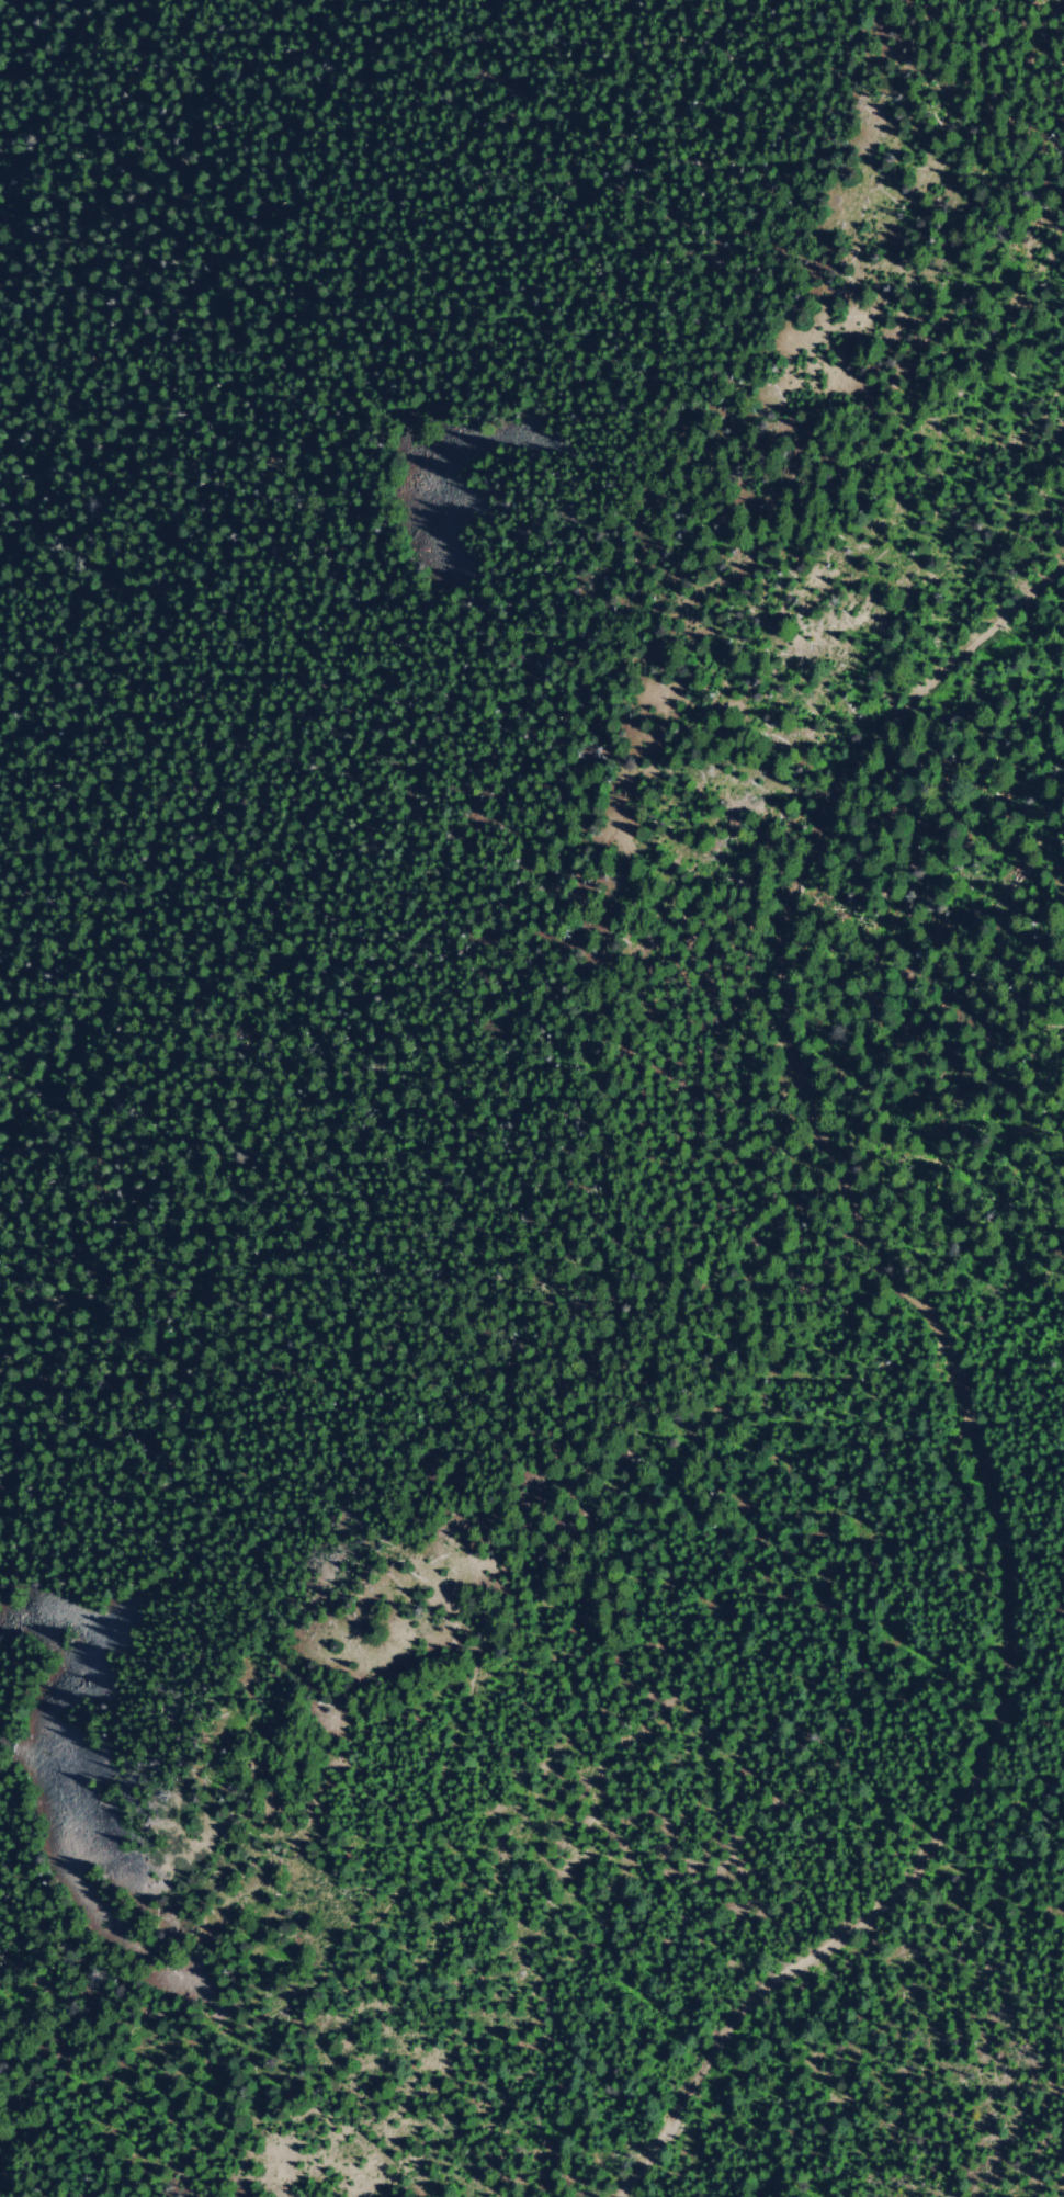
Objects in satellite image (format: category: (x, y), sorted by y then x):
road: (600, 1146)
road: (954, 1380)
road: (1009, 2163)

